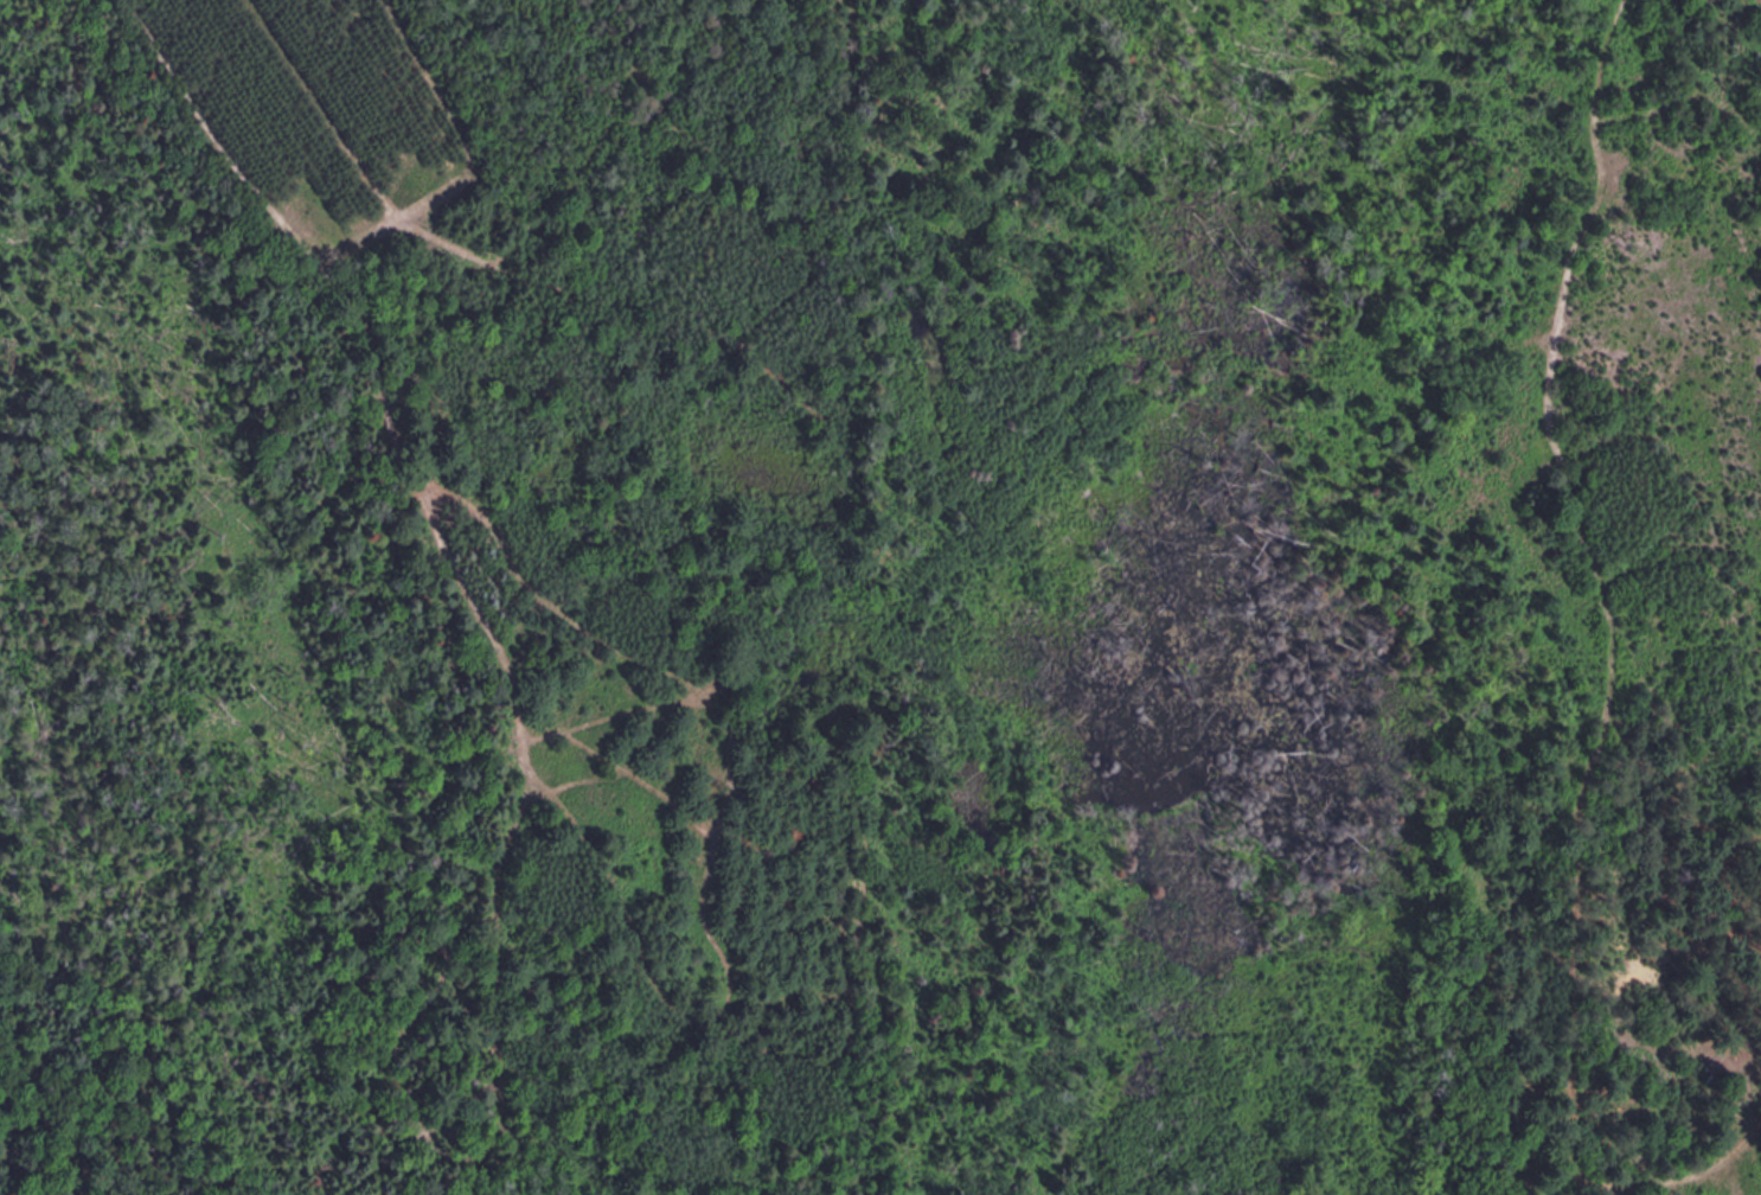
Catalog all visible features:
building: (1709, 1056)

